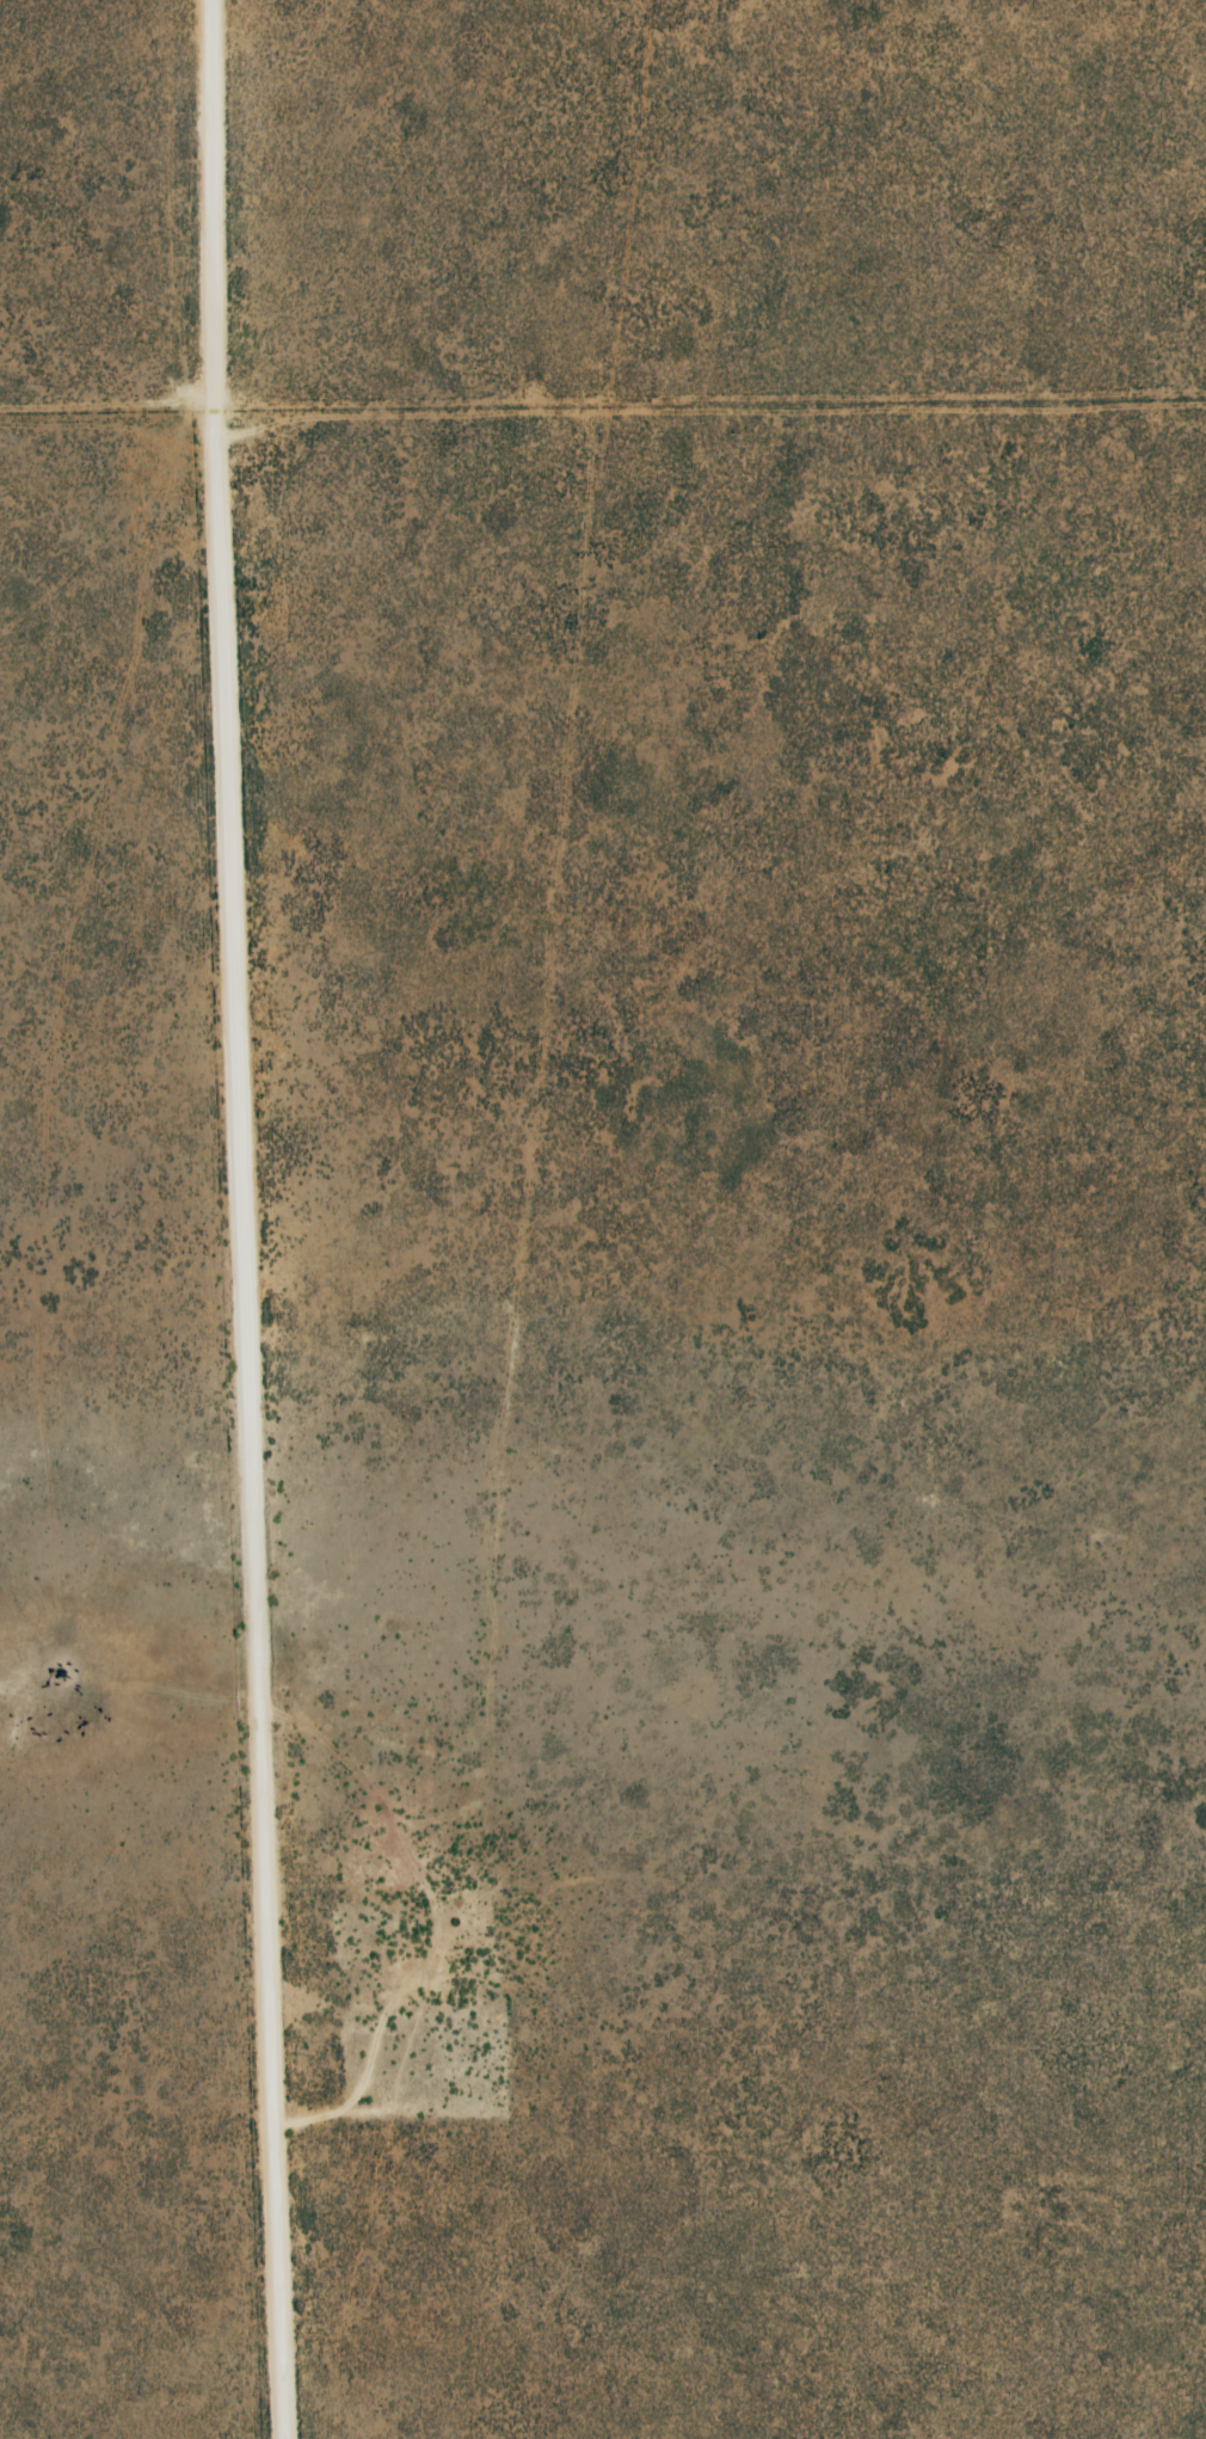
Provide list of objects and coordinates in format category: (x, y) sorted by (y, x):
road: (214, 205)
road: (248, 1425)

